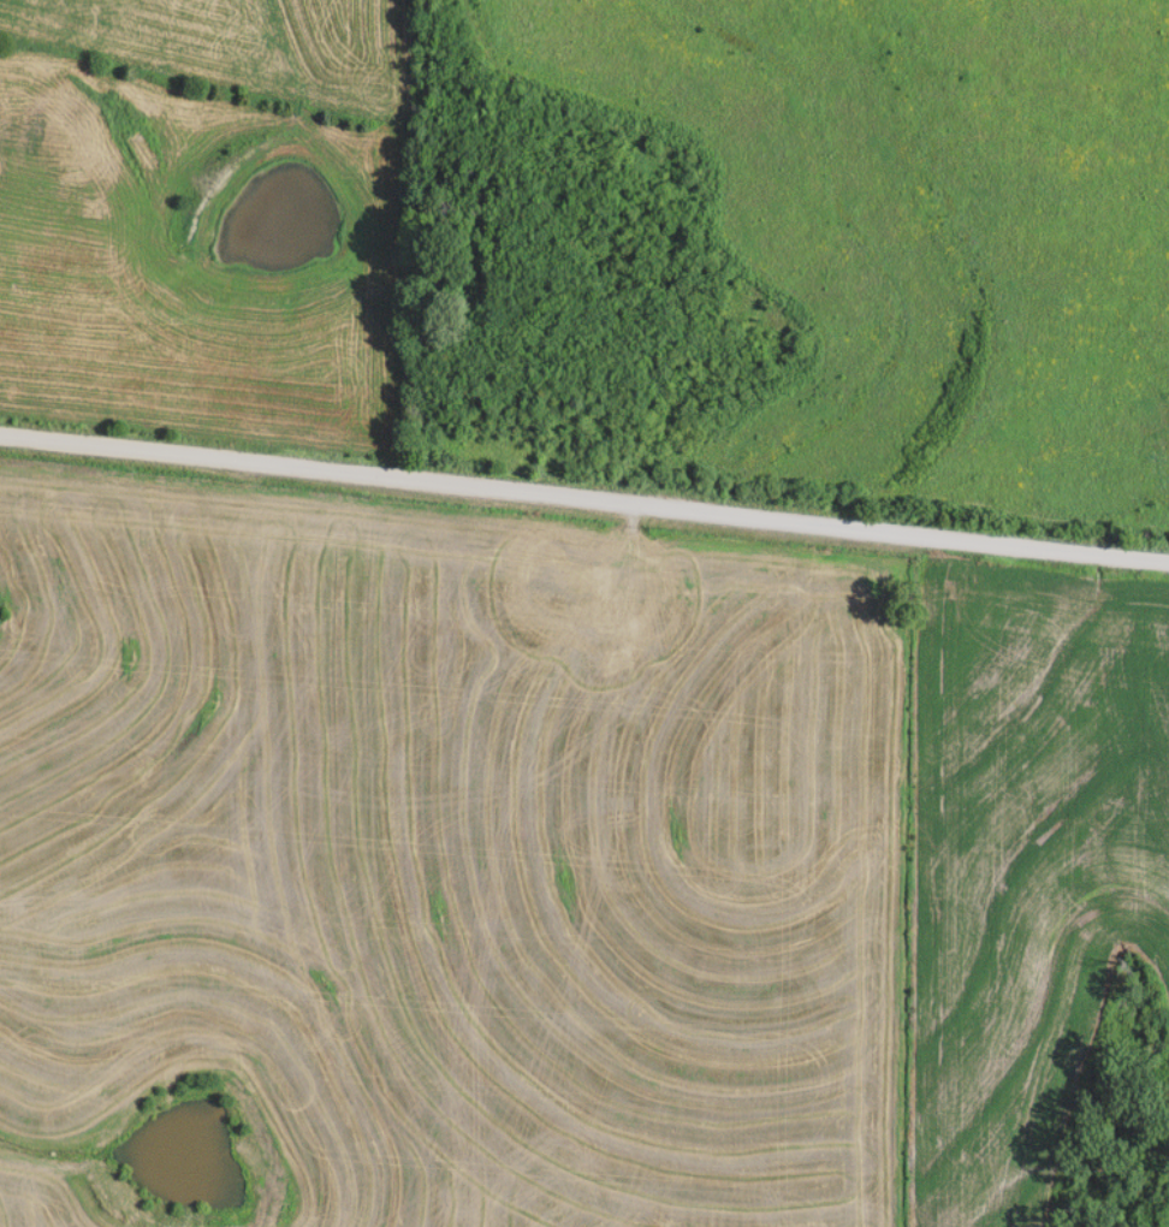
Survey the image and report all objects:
road: (583, 500)

